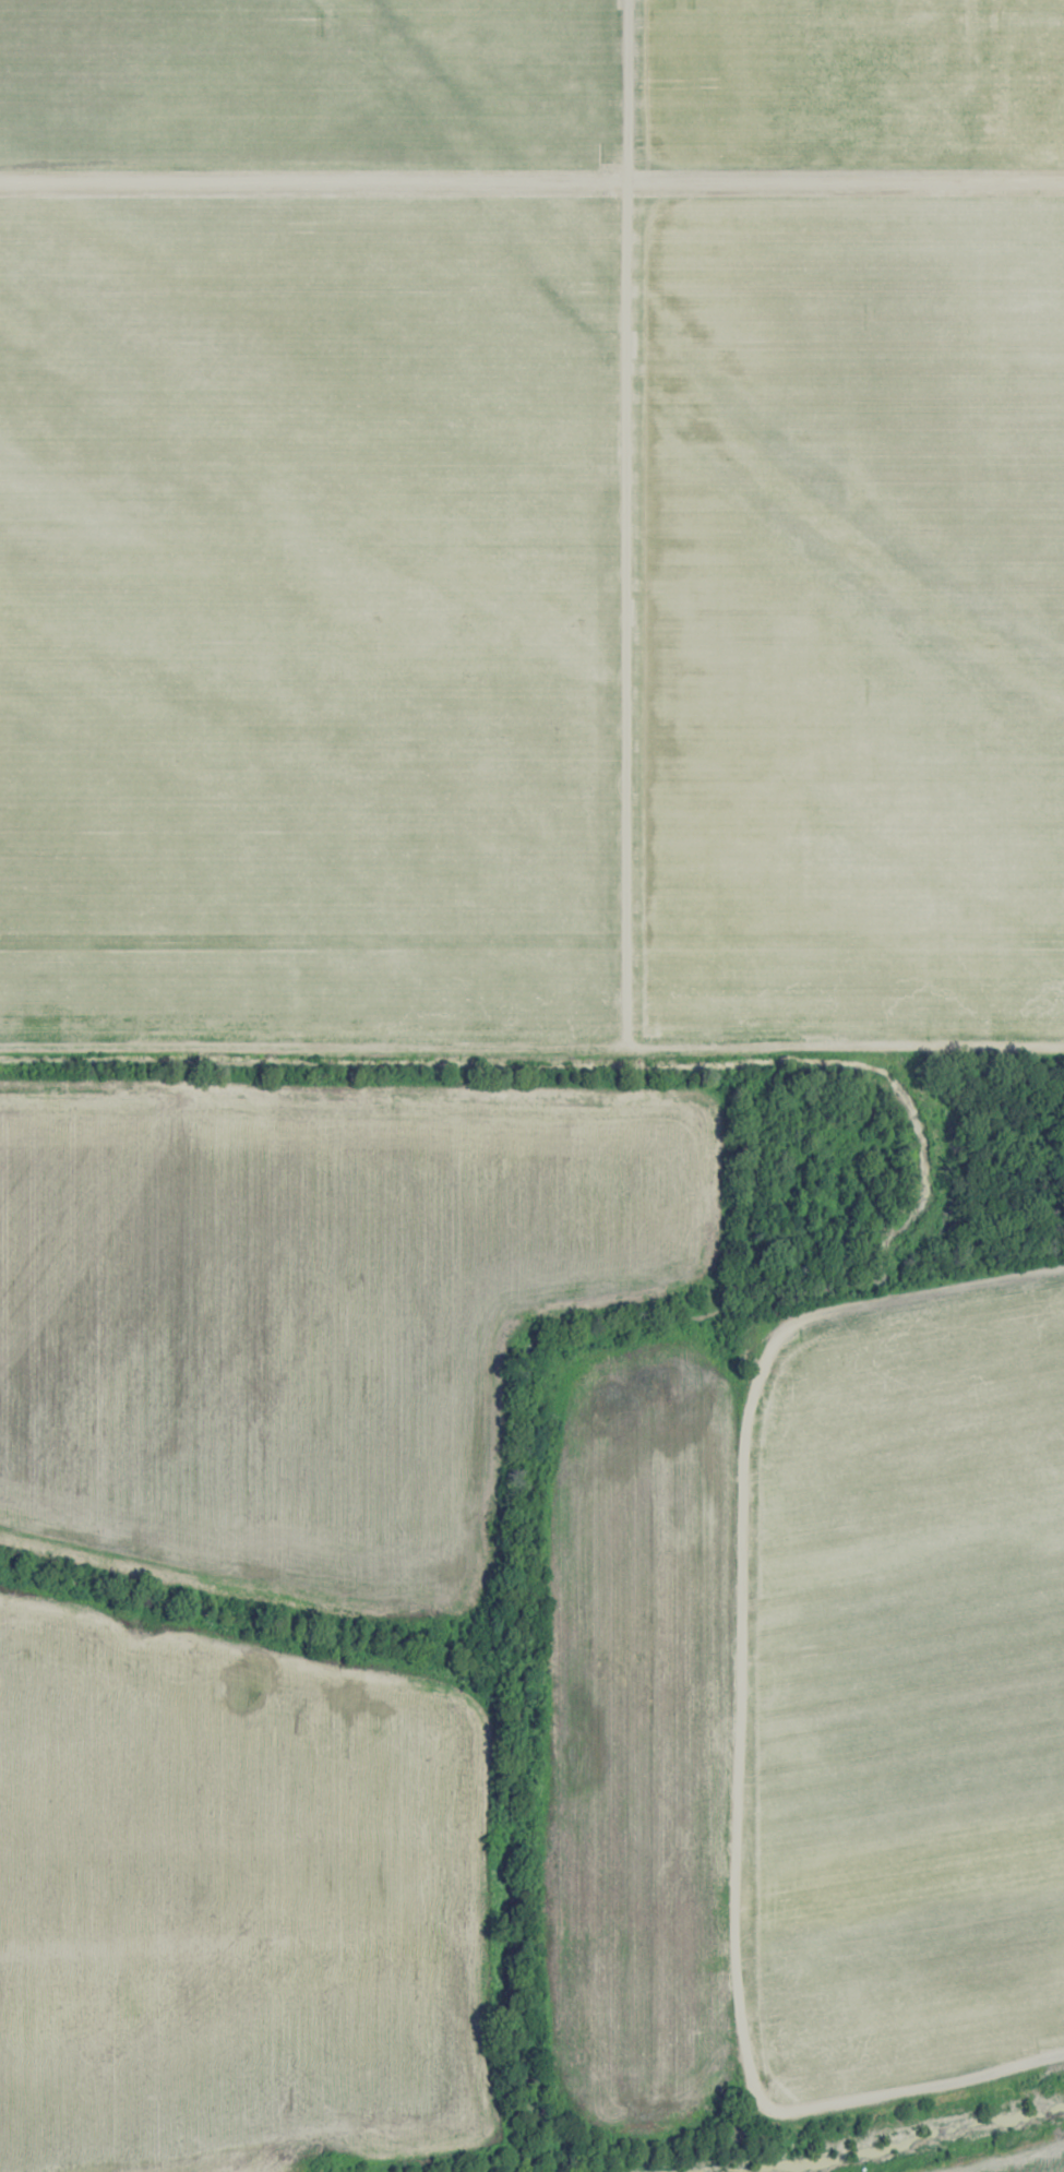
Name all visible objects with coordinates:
road: (487, 1787)

